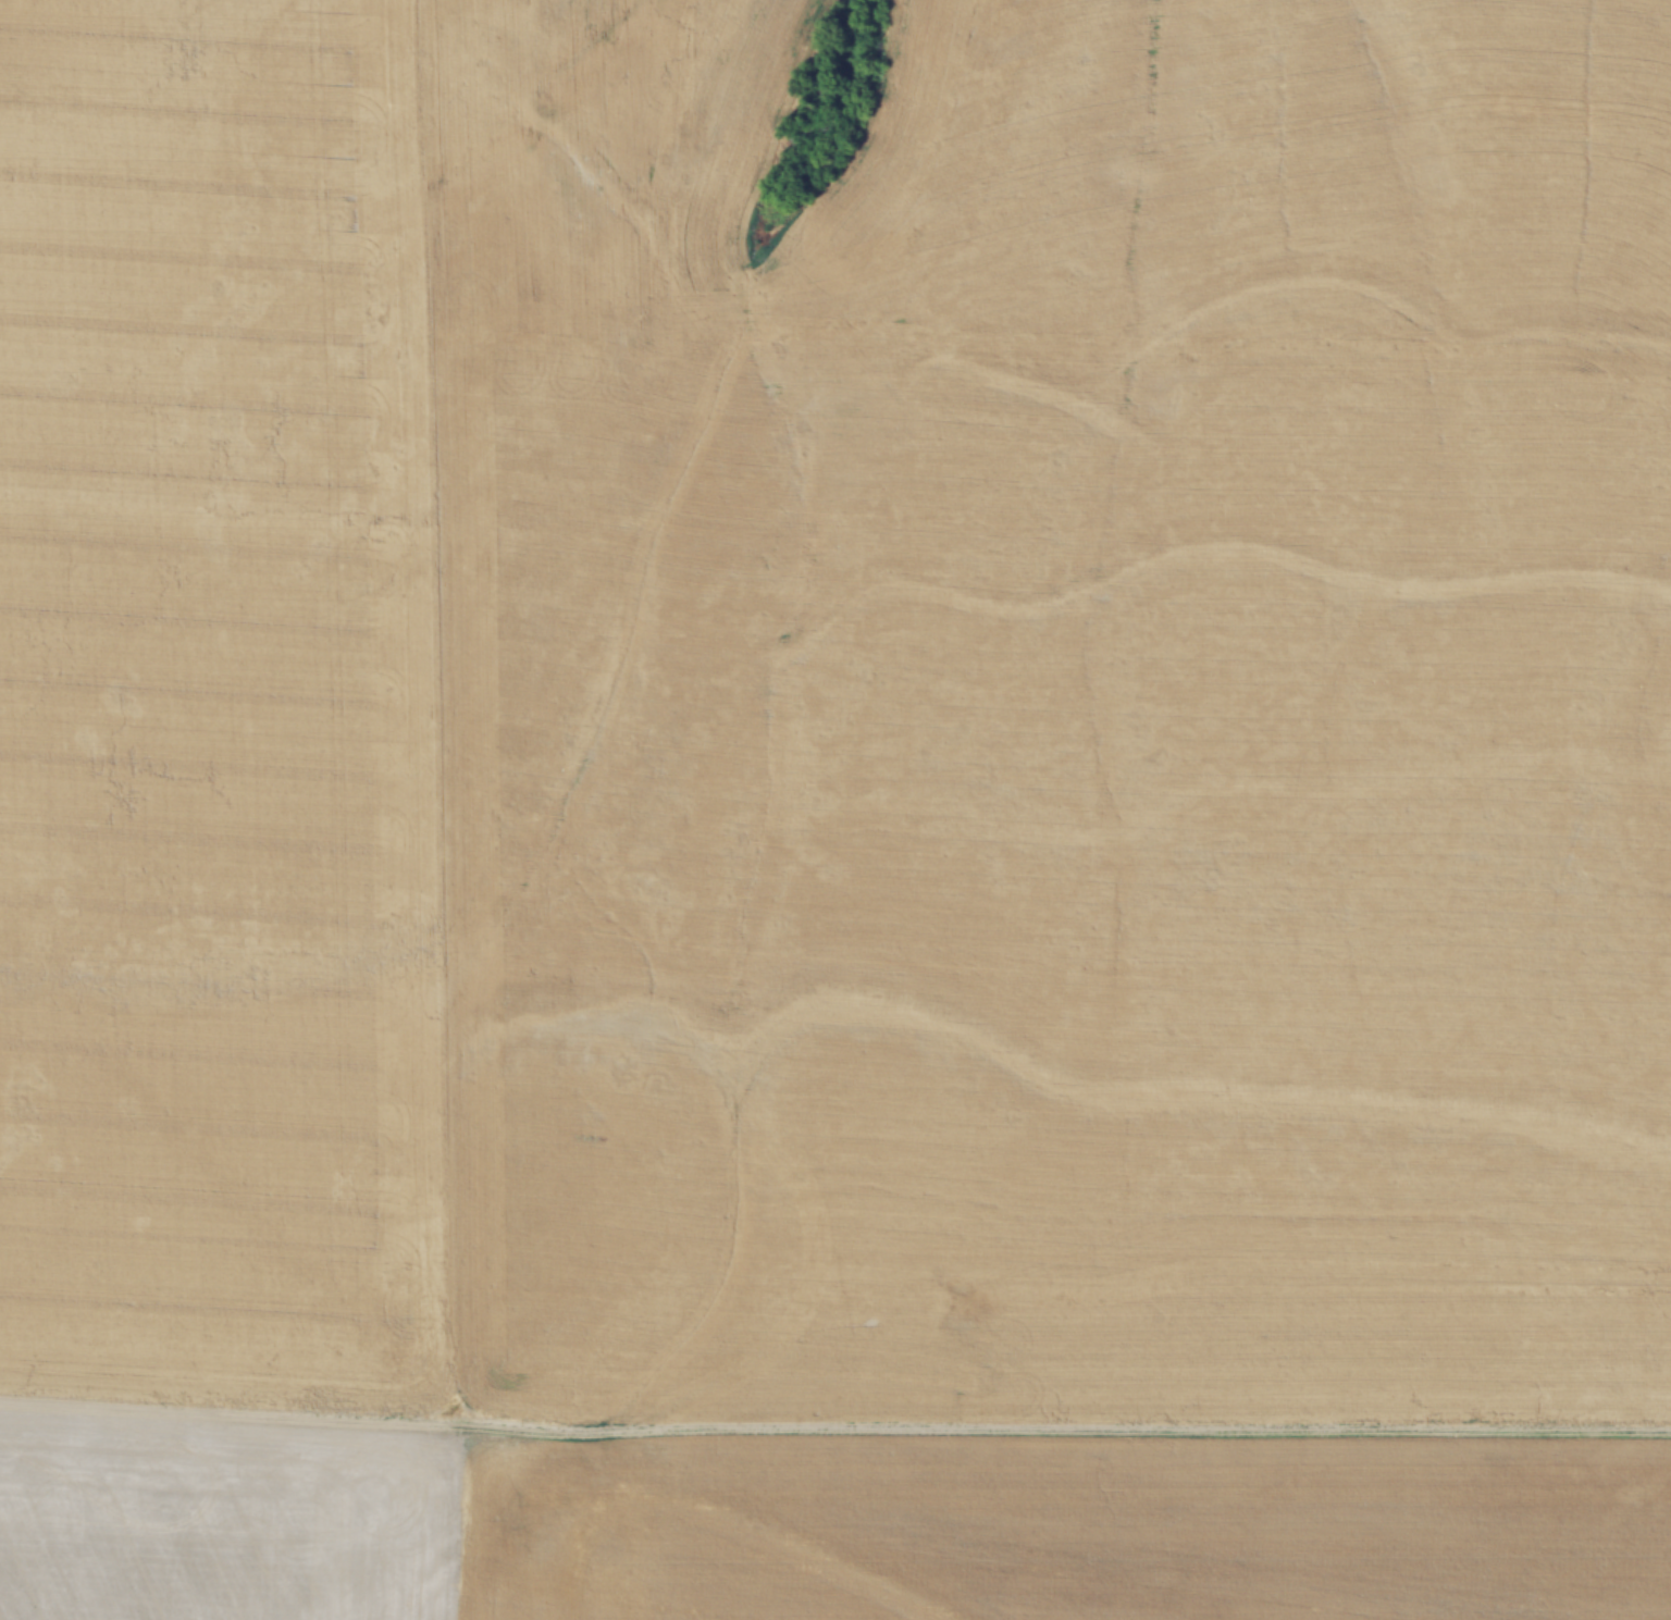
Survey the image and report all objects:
road: (834, 1413)

